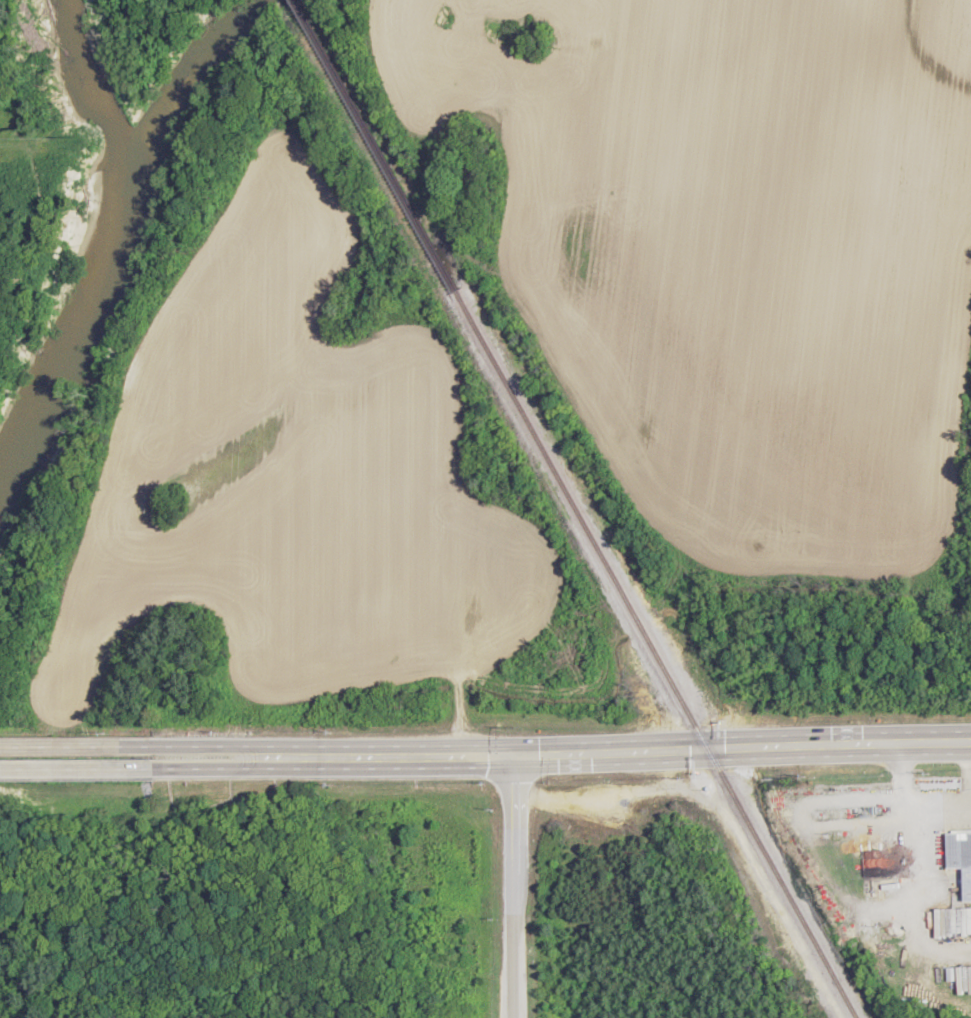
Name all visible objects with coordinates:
railway: (295, 1)
river: (194, 72)
river: (116, 241)
railway: (566, 514)
road: (75, 745)
road: (257, 746)
road: (666, 748)
traffic signals: (519, 751)
road: (258, 768)
road: (76, 771)
building: (865, 826)
building: (961, 856)
road: (515, 884)

